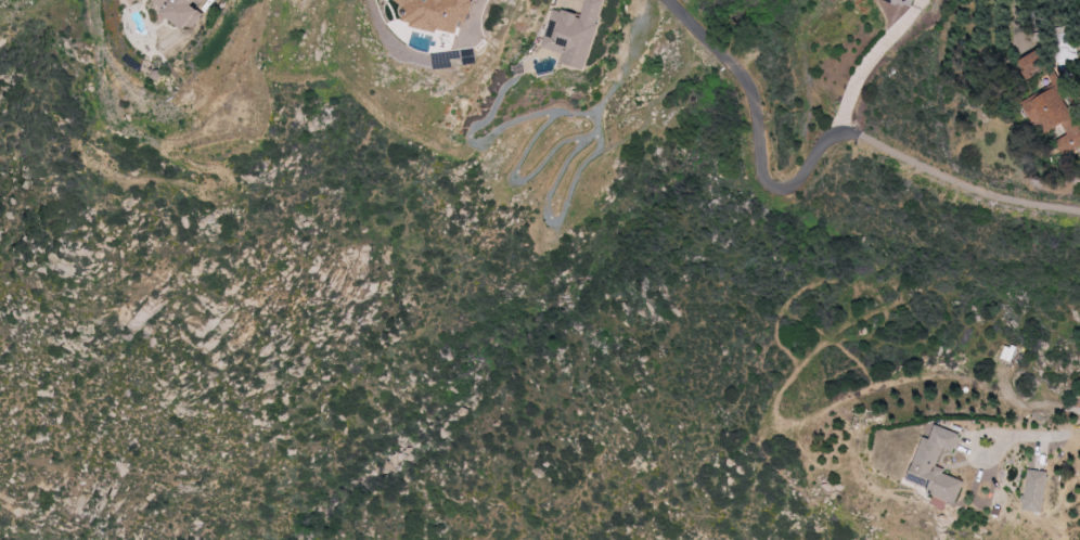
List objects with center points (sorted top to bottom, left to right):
building: (908, 2)
building: (183, 10)
building: (438, 14)
building: (575, 33)
building: (1034, 62)
road: (862, 69)
road: (564, 107)
building: (1056, 117)
road: (757, 137)
road: (964, 185)
road: (1045, 436)
road: (973, 448)
building: (937, 465)
building: (1036, 490)

